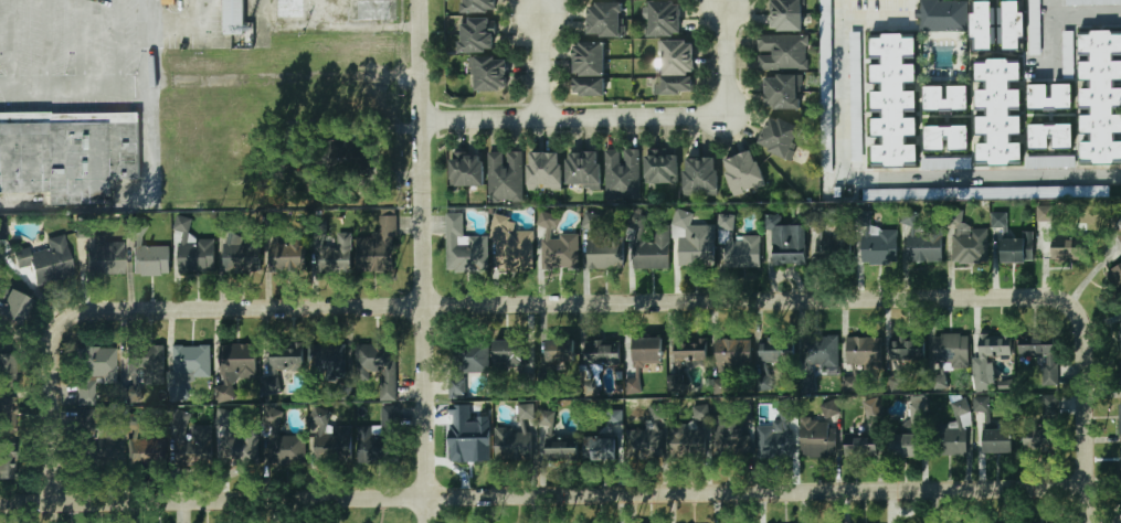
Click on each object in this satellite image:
building: (1092, 2)
building: (479, 6)
road: (1061, 9)
building: (937, 12)
building: (232, 15)
building: (785, 15)
road: (175, 18)
building: (664, 19)
road: (874, 19)
building: (605, 20)
road: (262, 21)
building: (982, 25)
building: (1012, 25)
road: (339, 28)
road: (175, 31)
road: (202, 35)
building: (477, 35)
building: (1034, 35)
road: (9, 44)
road: (44, 44)
road: (81, 44)
road: (117, 44)
building: (1066, 51)
building: (781, 52)
building: (826, 52)
road: (726, 58)
building: (855, 64)
road: (538, 67)
building: (677, 67)
building: (589, 68)
building: (490, 74)
road: (75, 89)
building: (782, 93)
building: (945, 97)
building: (1049, 97)
building: (1100, 97)
road: (150, 100)
building: (892, 102)
building: (997, 113)
building: (70, 118)
road: (572, 119)
building: (1050, 136)
building: (780, 138)
building: (945, 138)
building: (359, 153)
building: (68, 159)
building: (1050, 161)
building: (945, 162)
building: (660, 169)
building: (466, 170)
building: (583, 170)
building: (544, 171)
building: (743, 173)
building: (621, 174)
building: (699, 177)
building: (505, 178)
road: (890, 178)
road: (76, 203)
building: (1044, 212)
building: (998, 218)
building: (727, 221)
building: (790, 238)
building: (1119, 239)
building: (921, 242)
building: (558, 245)
building: (463, 246)
building: (510, 246)
building: (603, 246)
building: (697, 246)
building: (969, 246)
building: (878, 248)
building: (831, 249)
building: (1017, 249)
building: (192, 250)
building: (652, 250)
building: (372, 253)
building: (741, 254)
building: (103, 255)
building: (1068, 255)
building: (242, 256)
building: (287, 256)
building: (331, 258)
building: (46, 260)
road: (422, 260)
building: (151, 261)
building: (1115, 277)
road: (605, 303)
building: (9, 310)
building: (1120, 339)
building: (907, 349)
building: (950, 350)
building: (559, 351)
building: (771, 351)
building: (863, 351)
building: (817, 352)
building: (601, 353)
building: (644, 353)
building: (733, 353)
building: (988, 354)
building: (1040, 354)
building: (470, 357)
building: (690, 357)
building: (329, 360)
building: (511, 360)
building: (236, 362)
building: (282, 364)
building: (145, 365)
building: (378, 365)
building: (187, 367)
building: (2, 369)
building: (92, 371)
building: (1119, 377)
building: (940, 378)
building: (676, 383)
building: (1005, 384)
building: (457, 385)
building: (719, 385)
building: (632, 386)
building: (590, 387)
road: (54, 389)
building: (133, 389)
building: (341, 391)
building: (981, 406)
building: (1050, 406)
building: (828, 409)
building: (1, 413)
building: (700, 413)
building: (875, 414)
building: (615, 416)
building: (1120, 419)
building: (177, 426)
road: (1087, 428)
building: (952, 434)
building: (1044, 434)
building: (642, 435)
building: (467, 436)
building: (515, 438)
building: (816, 438)
building: (233, 439)
building: (731, 440)
building: (998, 440)
building: (95, 441)
building: (556, 441)
building: (681, 441)
building: (861, 441)
building: (281, 442)
building: (774, 444)
building: (332, 445)
building: (200, 446)
building: (372, 446)
building: (906, 446)
building: (605, 449)
building: (142, 452)
building: (8, 462)
road: (543, 495)

